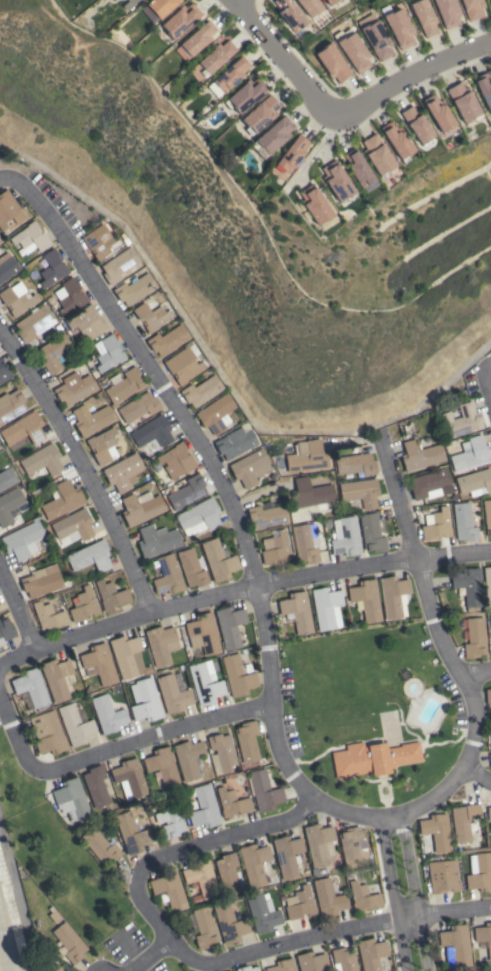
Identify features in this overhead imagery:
building: (331, 1)
building: (490, 1)
building: (129, 4)
building: (162, 6)
building: (310, 6)
building: (473, 8)
building: (448, 12)
building: (290, 14)
building: (425, 17)
building: (181, 20)
building: (400, 28)
building: (378, 39)
building: (195, 40)
building: (355, 52)
building: (215, 57)
road: (284, 58)
building: (333, 62)
road: (414, 75)
building: (229, 76)
building: (485, 88)
building: (246, 94)
building: (464, 102)
building: (439, 112)
building: (261, 115)
building: (418, 125)
building: (273, 137)
building: (398, 140)
building: (292, 154)
building: (378, 155)
building: (358, 167)
building: (337, 180)
building: (315, 204)
building: (7, 208)
building: (31, 238)
building: (0, 240)
building: (101, 242)
building: (119, 265)
building: (7, 267)
building: (52, 268)
building: (135, 289)
building: (70, 296)
building: (17, 298)
building: (152, 316)
building: (34, 323)
building: (86, 323)
building: (168, 340)
building: (52, 353)
building: (108, 353)
building: (184, 364)
building: (4, 372)
building: (123, 385)
building: (74, 388)
building: (202, 390)
building: (11, 405)
building: (138, 408)
building: (216, 413)
building: (91, 419)
building: (460, 420)
building: (23, 430)
building: (152, 434)
building: (235, 442)
building: (103, 446)
building: (471, 454)
building: (420, 455)
building: (307, 456)
building: (176, 460)
building: (42, 461)
building: (356, 464)
road: (84, 466)
building: (250, 467)
building: (123, 472)
building: (7, 478)
building: (475, 482)
building: (430, 485)
building: (187, 492)
building: (360, 493)
building: (310, 494)
building: (62, 500)
road: (231, 501)
building: (9, 505)
building: (141, 507)
building: (268, 514)
building: (487, 516)
building: (199, 517)
building: (463, 522)
building: (74, 525)
building: (437, 525)
building: (375, 529)
building: (346, 537)
building: (22, 539)
building: (157, 540)
building: (305, 542)
building: (275, 547)
building: (90, 556)
building: (218, 560)
building: (192, 568)
building: (167, 575)
building: (42, 582)
building: (487, 584)
building: (468, 588)
road: (239, 591)
building: (111, 595)
building: (393, 596)
building: (366, 599)
building: (83, 605)
building: (326, 608)
road: (19, 610)
building: (297, 611)
building: (49, 616)
building: (230, 626)
building: (5, 630)
building: (203, 633)
building: (474, 638)
building: (490, 638)
road: (442, 640)
building: (161, 644)
building: (125, 655)
building: (100, 663)
road: (475, 672)
building: (238, 674)
building: (57, 678)
building: (205, 683)
building: (31, 687)
building: (172, 694)
building: (488, 696)
building: (145, 700)
building: (107, 714)
building: (75, 725)
building: (47, 733)
road: (17, 734)
road: (156, 736)
building: (247, 741)
building: (223, 752)
building: (188, 758)
building: (373, 758)
building: (490, 760)
building: (163, 767)
road: (478, 774)
building: (129, 778)
building: (96, 786)
building: (264, 791)
building: (231, 799)
building: (71, 800)
building: (204, 807)
building: (488, 814)
building: (169, 817)
building: (465, 822)
building: (490, 826)
building: (132, 833)
building: (435, 833)
building: (319, 844)
building: (101, 846)
building: (353, 847)
road: (192, 848)
building: (287, 855)
building: (254, 863)
building: (479, 872)
building: (228, 873)
building: (443, 876)
building: (201, 880)
building: (169, 890)
road: (415, 892)
road: (394, 894)
building: (328, 897)
building: (364, 897)
building: (299, 903)
building: (263, 912)
building: (229, 922)
building: (203, 927)
road: (326, 934)
building: (483, 938)
building: (68, 943)
building: (456, 946)
building: (371, 953)
road: (154, 955)
building: (343, 960)
building: (311, 962)
building: (282, 965)
building: (52, 966)
building: (247, 968)

